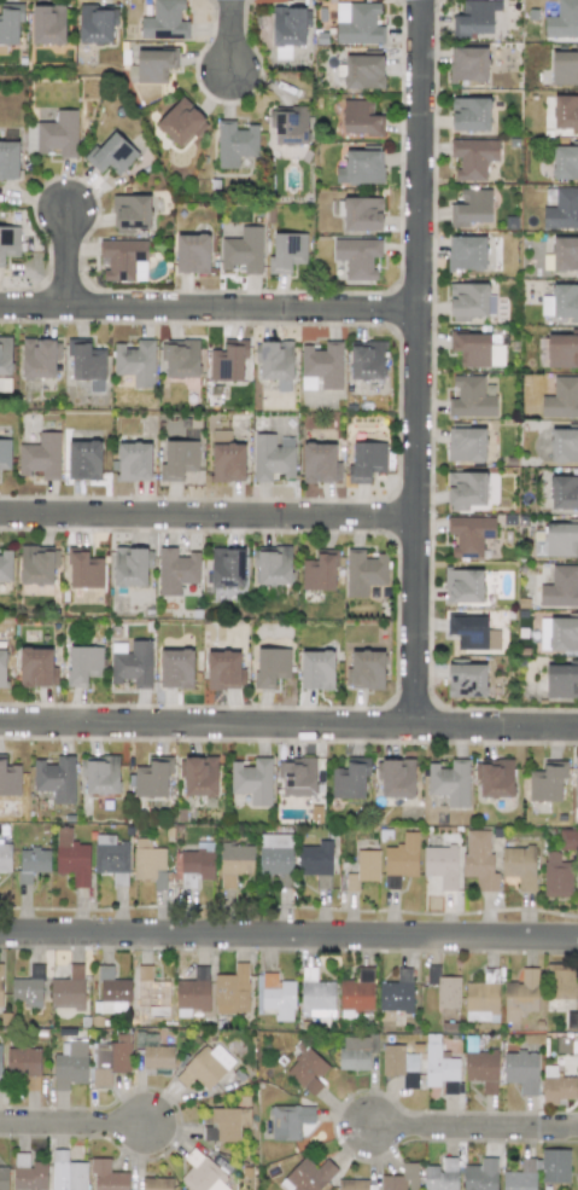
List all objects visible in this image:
building: (474, 17)
building: (562, 19)
building: (164, 21)
building: (10, 23)
building: (95, 23)
building: (357, 23)
building: (47, 24)
building: (290, 27)
road: (228, 36)
building: (154, 63)
building: (468, 63)
building: (564, 66)
building: (363, 71)
building: (565, 111)
building: (469, 114)
building: (360, 118)
building: (181, 122)
building: (287, 128)
building: (58, 134)
building: (235, 144)
building: (110, 153)
building: (472, 157)
building: (8, 159)
building: (565, 162)
building: (360, 168)
building: (471, 208)
building: (561, 210)
building: (130, 211)
building: (362, 213)
building: (8, 242)
building: (243, 250)
building: (286, 252)
building: (467, 252)
building: (192, 254)
building: (562, 255)
building: (357, 257)
road: (66, 259)
building: (123, 260)
building: (468, 300)
building: (565, 302)
road: (209, 309)
building: (562, 349)
building: (477, 350)
building: (5, 356)
building: (40, 358)
building: (181, 359)
building: (228, 360)
building: (367, 360)
building: (135, 362)
road: (418, 362)
building: (276, 364)
building: (321, 365)
building: (88, 366)
building: (471, 397)
building: (561, 399)
building: (466, 445)
building: (564, 446)
building: (5, 454)
building: (40, 455)
building: (179, 457)
building: (272, 457)
building: (227, 458)
building: (84, 460)
building: (367, 460)
building: (134, 462)
building: (320, 464)
building: (466, 488)
building: (564, 492)
road: (209, 519)
building: (469, 534)
building: (561, 538)
building: (5, 564)
building: (272, 564)
building: (36, 565)
building: (130, 567)
building: (226, 568)
building: (84, 569)
building: (176, 570)
building: (363, 571)
building: (319, 573)
building: (463, 586)
building: (560, 586)
building: (473, 633)
building: (559, 634)
building: (132, 663)
building: (83, 664)
building: (270, 666)
building: (2, 667)
building: (35, 667)
building: (176, 668)
building: (223, 669)
building: (316, 669)
building: (366, 671)
building: (466, 680)
building: (561, 680)
road: (288, 726)
building: (101, 774)
building: (200, 776)
building: (297, 776)
building: (495, 777)
building: (8, 778)
building: (56, 778)
building: (397, 778)
building: (151, 779)
building: (349, 779)
building: (252, 780)
building: (449, 782)
building: (547, 782)
building: (576, 784)
building: (568, 840)
building: (275, 854)
building: (5, 857)
building: (71, 858)
building: (111, 858)
building: (479, 859)
building: (401, 860)
building: (194, 861)
building: (148, 863)
building: (234, 863)
building: (316, 863)
building: (31, 864)
building: (440, 865)
building: (519, 866)
building: (363, 869)
building: (556, 876)
road: (288, 935)
building: (560, 981)
building: (0, 982)
building: (444, 987)
building: (28, 988)
building: (68, 989)
building: (232, 991)
building: (357, 991)
building: (111, 992)
building: (192, 993)
building: (396, 993)
building: (520, 994)
building: (152, 995)
building: (275, 995)
building: (316, 997)
building: (480, 1002)
building: (562, 1044)
building: (153, 1051)
building: (110, 1058)
building: (71, 1061)
building: (0, 1063)
building: (401, 1064)
building: (24, 1066)
building: (205, 1067)
building: (440, 1067)
building: (481, 1069)
building: (521, 1070)
building: (306, 1072)
building: (556, 1086)
road: (75, 1120)
building: (288, 1121)
building: (226, 1124)
road: (475, 1130)
building: (554, 1166)
building: (68, 1172)
building: (28, 1173)
building: (203, 1174)
building: (310, 1174)
building: (440, 1174)
building: (480, 1174)
building: (107, 1176)
building: (4, 1178)
building: (402, 1178)
building: (157, 1184)

